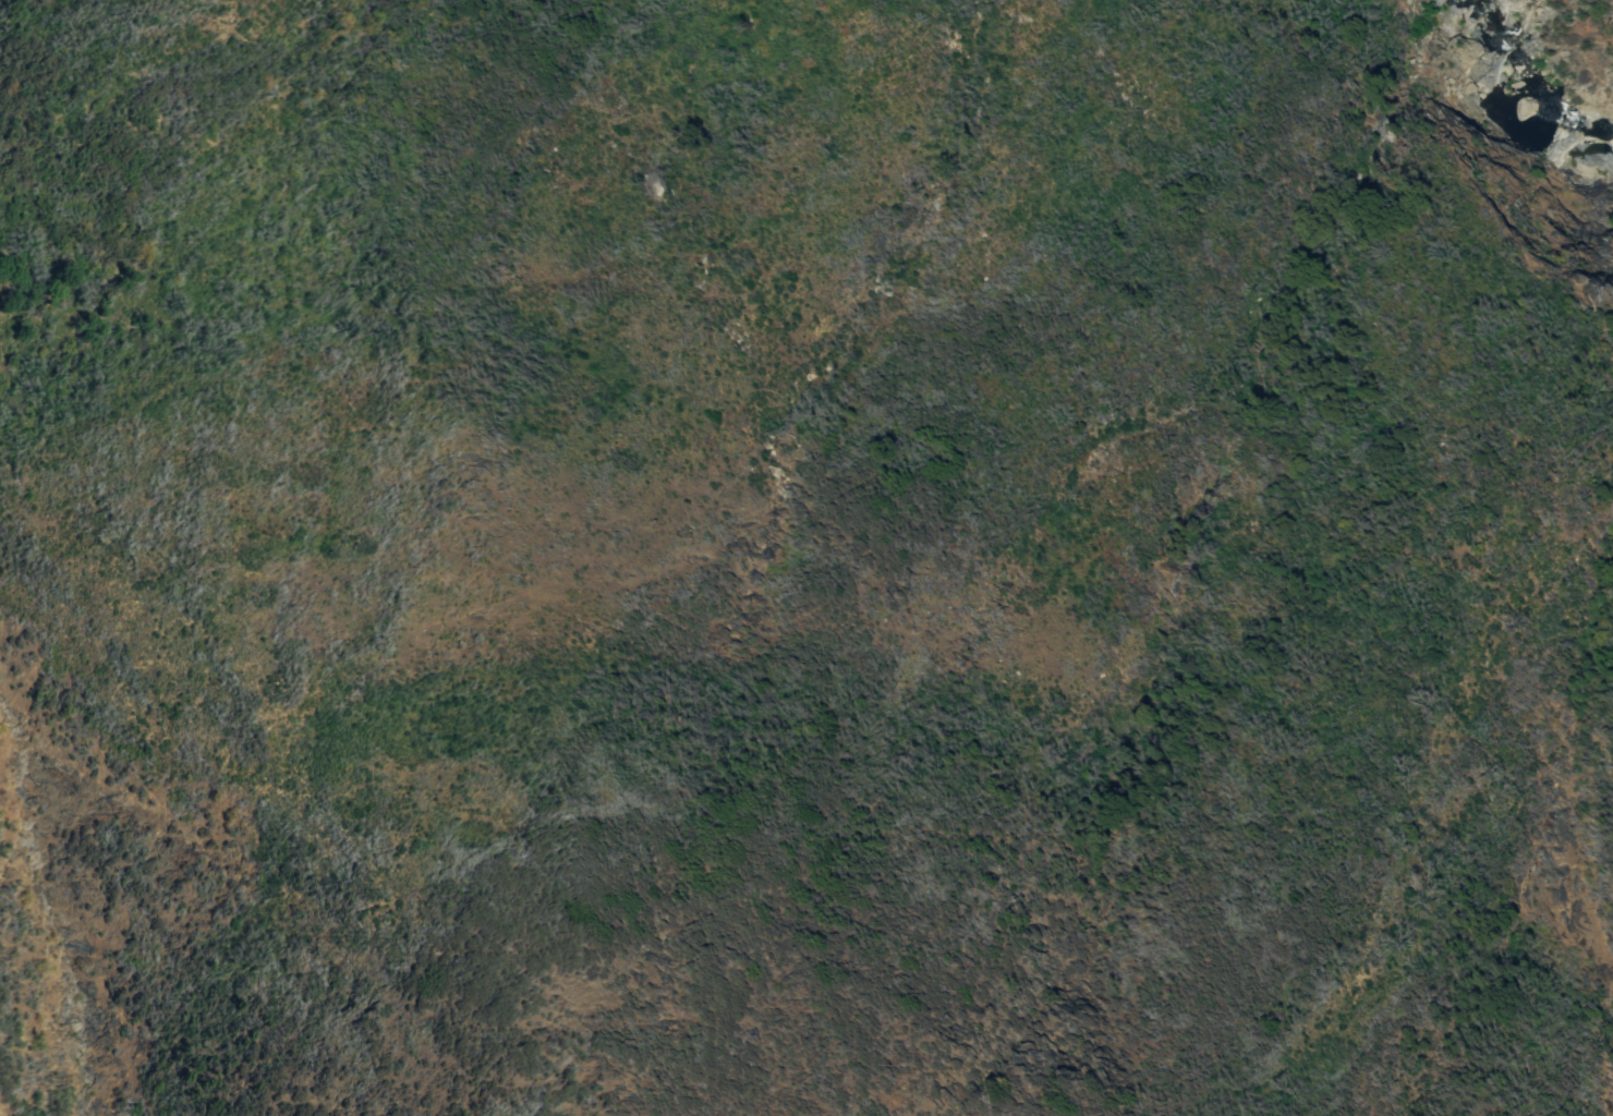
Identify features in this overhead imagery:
river: (1513, 99)

